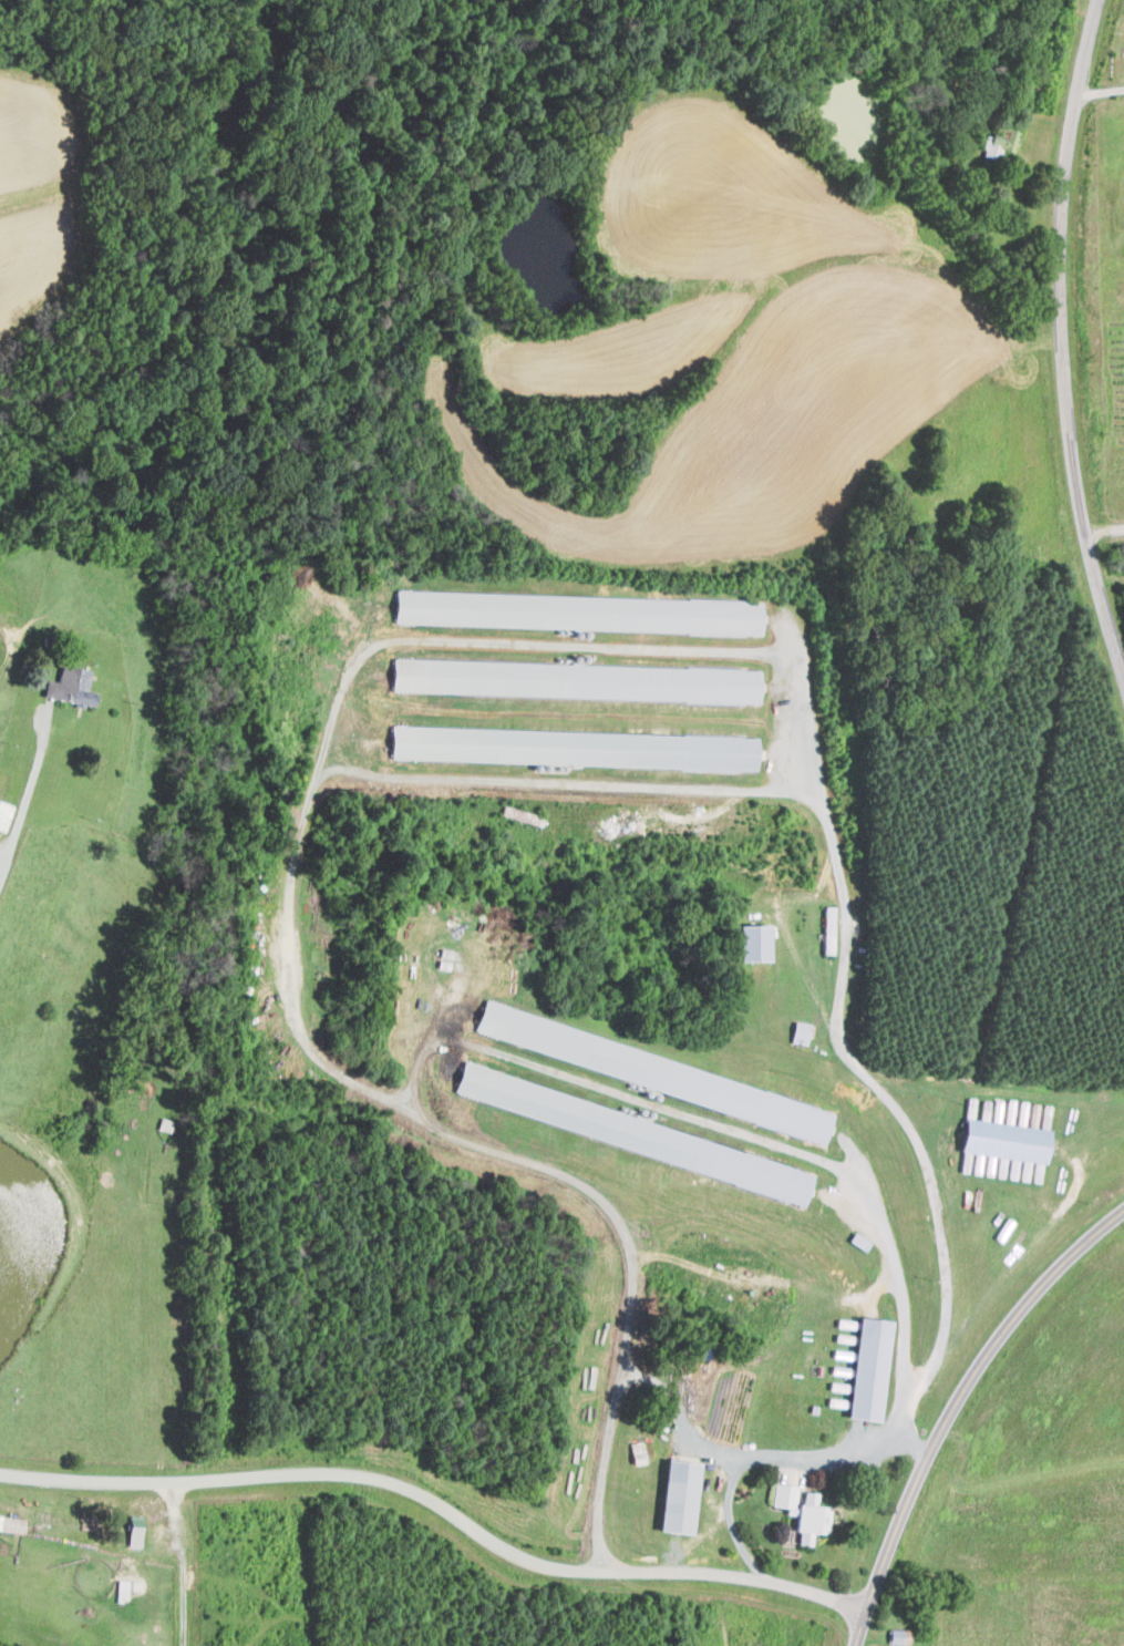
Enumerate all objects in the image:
road: (1104, 89)
building: (999, 142)
road: (1068, 337)
road: (1105, 529)
building: (576, 611)
building: (574, 679)
building: (69, 686)
building: (571, 747)
road: (411, 772)
road: (21, 796)
building: (750, 942)
road: (835, 966)
building: (798, 1031)
building: (651, 1071)
road: (417, 1103)
road: (716, 1122)
building: (631, 1132)
building: (1003, 1142)
road: (493, 1149)
building: (866, 1369)
road: (681, 1406)
road: (956, 1408)
road: (899, 1413)
road: (910, 1441)
road: (747, 1458)
building: (676, 1496)
road: (441, 1501)
building: (801, 1512)
building: (10, 1524)
building: (132, 1533)
building: (126, 1587)
building: (897, 1637)

